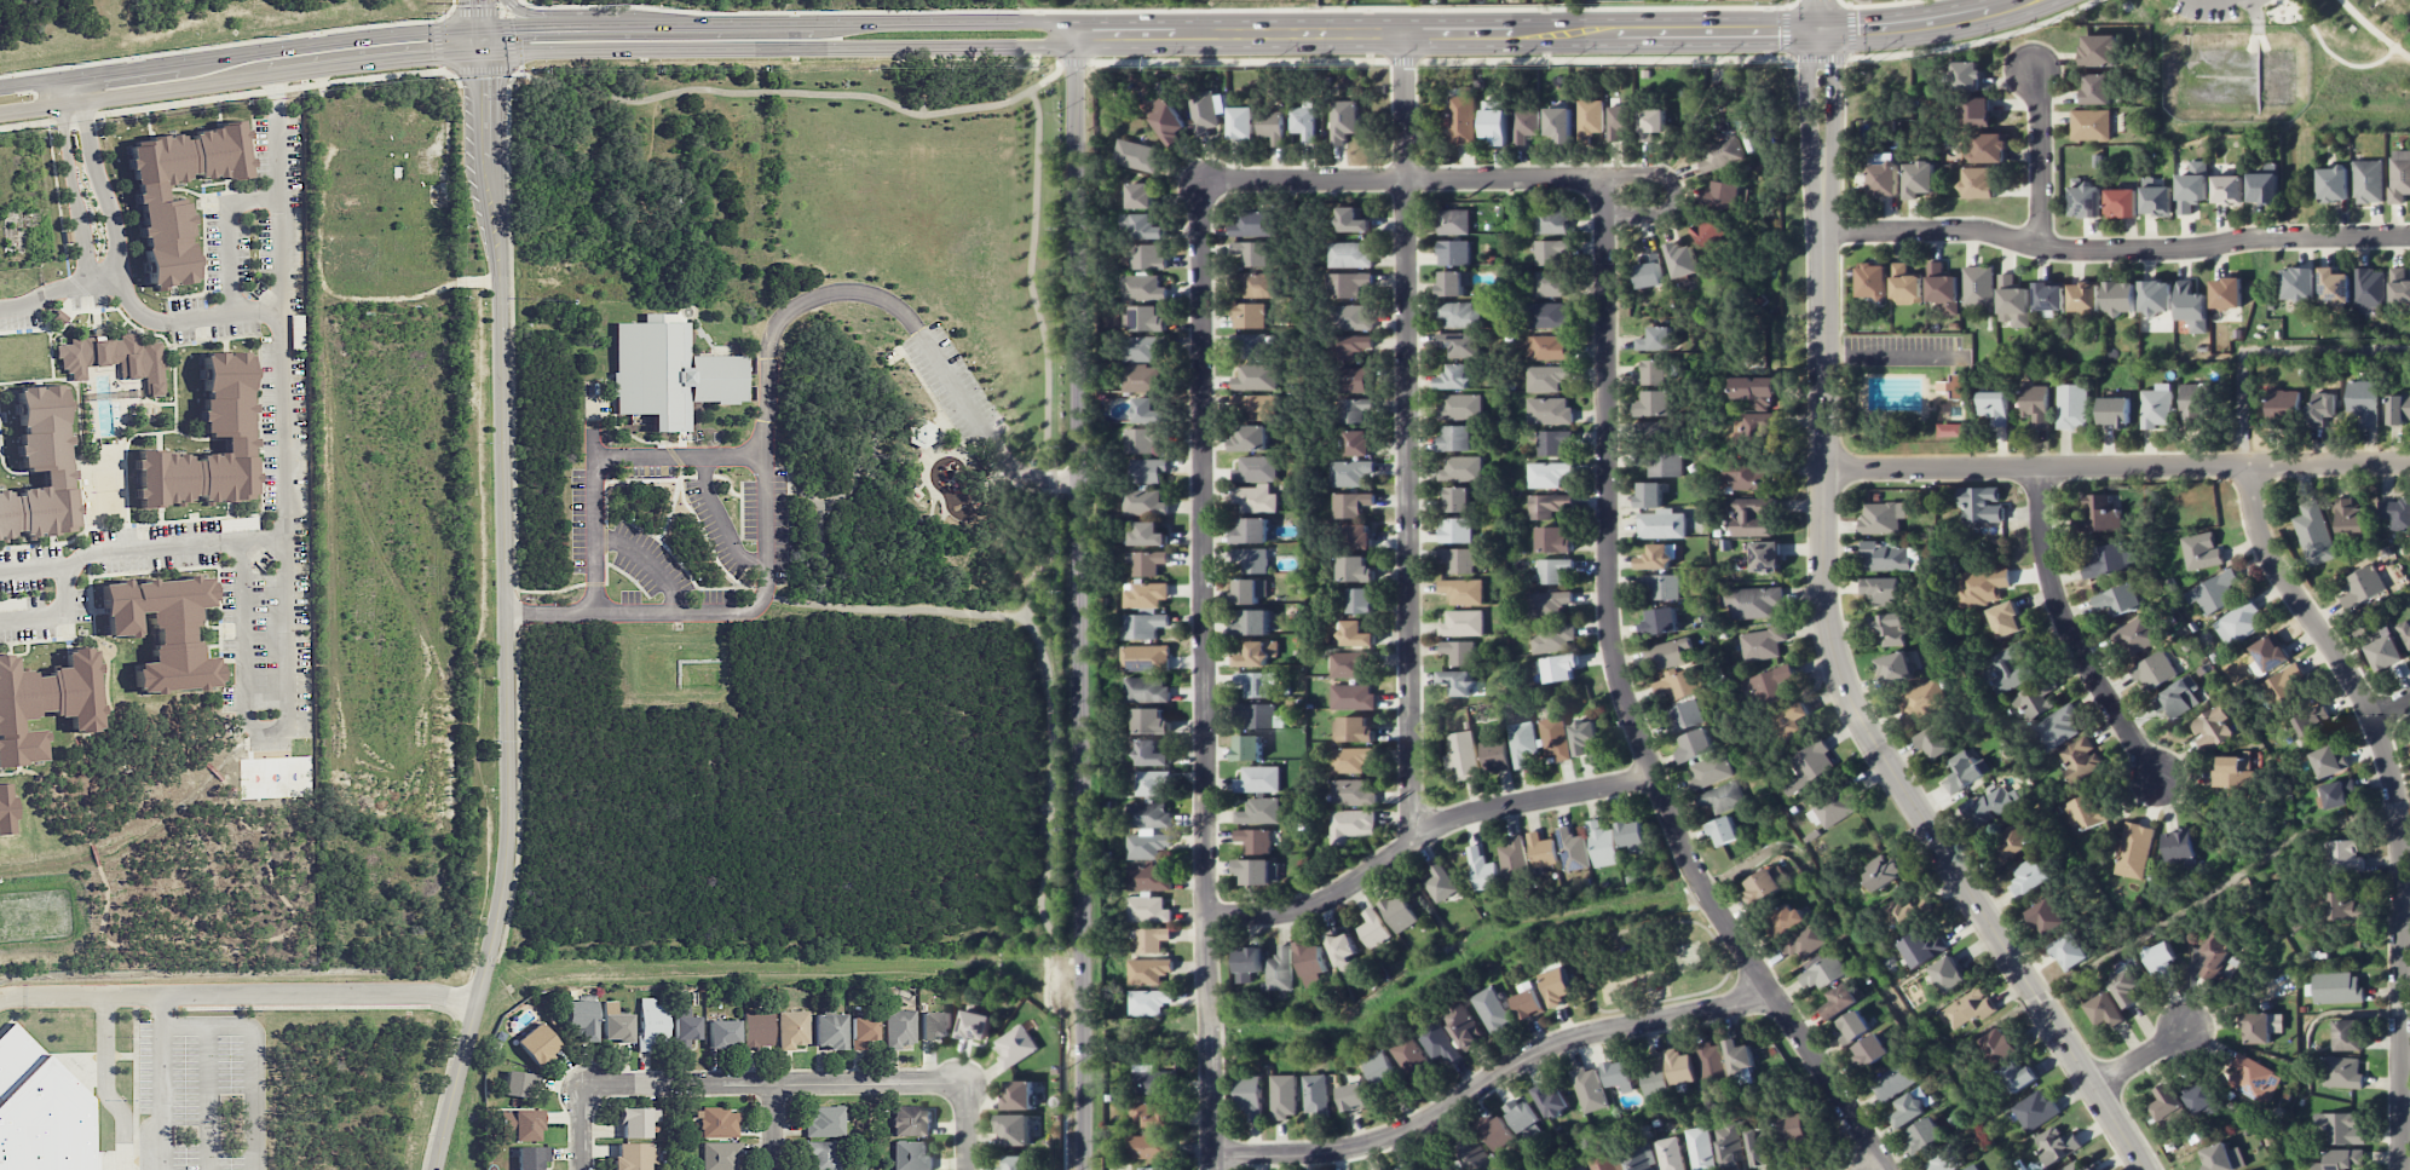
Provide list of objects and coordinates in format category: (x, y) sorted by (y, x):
road: (2245, 1)
road: (2248, 1)
road: (1844, 2)
road: (1879, 2)
traffic signals: (484, 5)
road: (1155, 10)
parking lot: (2219, 10)
road: (475, 12)
road: (484, 13)
road: (526, 13)
road: (1818, 16)
road: (1924, 22)
traffic signals: (514, 25)
road: (535, 25)
road: (2372, 29)
road: (1850, 30)
road: (1445, 31)
road: (1782, 31)
traffic signals: (1818, 31)
road: (507, 33)
road: (224, 45)
road: (437, 46)
building: (2099, 50)
road: (535, 51)
road: (2330, 52)
traffic signals: (432, 56)
road: (1557, 59)
park: (2276, 64)
building: (1966, 75)
traffic signals: (485, 77)
building: (2095, 88)
road: (69, 90)
road: (756, 91)
road: (242, 94)
building: (1203, 111)
building: (1977, 111)
building: (1461, 116)
building: (1590, 116)
building: (1342, 120)
building: (1651, 120)
building: (1166, 121)
building: (1494, 121)
building: (1618, 121)
building: (1238, 122)
building: (1303, 123)
building: (1558, 123)
building: (1524, 125)
building: (2089, 125)
building: (1270, 127)
building: (1988, 148)
building: (1719, 154)
building: (1136, 155)
road: (2039, 156)
building: (1879, 159)
building: (2399, 175)
road: (1400, 177)
building: (1883, 179)
building: (1918, 179)
building: (2368, 180)
building: (1978, 183)
building: (2333, 184)
road: (102, 186)
building: (2191, 186)
building: (2262, 188)
building: (2227, 190)
road: (71, 191)
road: (1674, 194)
building: (1724, 194)
building: (1140, 195)
building: (2155, 197)
building: (2085, 201)
building: (2120, 203)
building: (1351, 220)
building: (1551, 220)
building: (1453, 221)
building: (1250, 223)
building: (1140, 226)
road: (229, 231)
building: (1712, 234)
building: (166, 238)
road: (2115, 249)
building: (1453, 252)
building: (1551, 252)
building: (1250, 253)
building: (1348, 255)
building: (1146, 257)
building: (1682, 259)
building: (1649, 271)
building: (1872, 281)
road: (81, 283)
road: (1027, 283)
building: (1451, 283)
building: (1550, 283)
building: (2297, 283)
building: (1255, 284)
building: (1347, 284)
building: (1905, 286)
building: (1978, 286)
building: (2399, 286)
building: (1943, 287)
building: (2333, 287)
building: (1143, 288)
building: (2369, 289)
building: (2225, 293)
building: (2083, 296)
building: (2155, 296)
building: (2049, 298)
building: (2120, 298)
building: (2013, 301)
road: (23, 302)
building: (2191, 306)
road: (137, 307)
road: (224, 312)
building: (1458, 313)
building: (1247, 315)
building: (1546, 316)
building: (1351, 317)
building: (1147, 318)
building: (1655, 339)
building: (1457, 344)
building: (1351, 346)
building: (1546, 347)
building: (1141, 348)
building: (116, 357)
road: (1896, 357)
building: (669, 373)
building: (1653, 373)
building: (1141, 377)
building: (1255, 377)
building: (1454, 377)
building: (1546, 377)
building: (1353, 380)
building: (1954, 385)
parking lot: (953, 386)
road: (769, 390)
building: (1754, 391)
building: (226, 394)
building: (2195, 400)
building: (2363, 400)
building: (1654, 403)
building: (2035, 403)
building: (2283, 404)
building: (1252, 405)
building: (2071, 405)
building: (2156, 405)
building: (1461, 407)
building: (1994, 407)
building: (2320, 408)
building: (1353, 409)
building: (2398, 409)
building: (1549, 410)
building: (1147, 411)
building: (2115, 411)
road: (940, 425)
building: (1753, 426)
building: (1656, 428)
building: (1949, 430)
building: (919, 432)
road: (1406, 436)
building: (1250, 438)
building: (1455, 438)
building: (1140, 440)
building: (1356, 442)
building: (1552, 442)
road: (679, 455)
road: (858, 462)
building: (1665, 463)
building: (39, 466)
road: (2116, 467)
building: (1255, 468)
building: (1460, 468)
building: (1147, 471)
building: (1349, 472)
building: (1547, 473)
building: (1745, 476)
building: (1649, 494)
road: (593, 497)
building: (1255, 498)
building: (1458, 498)
building: (1143, 502)
building: (1981, 503)
building: (1350, 505)
building: (1547, 505)
road: (821, 512)
building: (2395, 513)
building: (2098, 515)
road: (721, 517)
building: (1751, 517)
building: (1883, 517)
building: (2348, 517)
park: (826, 518)
building: (1661, 524)
road: (284, 529)
parking lot: (678, 529)
building: (1251, 530)
building: (1455, 530)
building: (2313, 534)
building: (1147, 535)
building: (1357, 536)
building: (1553, 540)
road: (116, 549)
building: (2201, 551)
building: (1657, 557)
building: (1765, 557)
building: (1889, 557)
building: (1252, 559)
building: (1457, 559)
building: (2108, 560)
road: (647, 561)
building: (1148, 563)
road: (35, 567)
building: (1355, 569)
building: (1552, 570)
building: (1982, 586)
building: (2362, 586)
building: (1665, 587)
building: (1247, 590)
building: (1463, 590)
building: (1881, 590)
building: (2215, 592)
building: (1146, 595)
building: (1361, 600)
building: (2115, 600)
road: (508, 601)
road: (1078, 601)
building: (1751, 601)
building: (1547, 603)
road: (894, 607)
building: (2005, 618)
building: (1660, 621)
building: (1251, 623)
building: (1461, 623)
building: (2238, 623)
building: (1143, 626)
building: (163, 628)
building: (1887, 628)
building: (2404, 633)
building: (1355, 634)
building: (2139, 634)
road: (2068, 635)
building: (1552, 636)
building: (1762, 642)
road: (1830, 644)
building: (1459, 652)
building: (2383, 652)
building: (1256, 653)
building: (1666, 653)
building: (2267, 653)
building: (1145, 657)
building: (1349, 663)
building: (1557, 667)
building: (1893, 667)
building: (2154, 670)
road: (1203, 674)
building: (1458, 681)
building: (1253, 684)
building: (1768, 684)
building: (2285, 684)
building: (1680, 685)
building: (1147, 688)
building: (1351, 696)
building: (1921, 698)
building: (2034, 698)
building: (2177, 698)
building: (45, 703)
road: (1047, 703)
road: (1626, 707)
road: (2392, 709)
building: (1259, 715)
building: (1683, 715)
building: (1791, 719)
building: (1151, 721)
building: (2311, 724)
building: (2057, 727)
building: (2212, 727)
building: (1353, 730)
building: (1582, 736)
building: (1555, 737)
building: (1932, 742)
building: (1522, 743)
building: (1695, 744)
building: (2408, 745)
building: (1247, 748)
building: (1151, 754)
building: (1461, 755)
building: (1494, 755)
building: (1351, 759)
building: (2080, 759)
building: (2328, 761)
building: (1812, 762)
building: (1711, 770)
building: (1964, 770)
building: (2235, 771)
building: (1258, 779)
building: (1353, 793)
building: (2337, 793)
building: (1722, 797)
road: (2397, 799)
building: (1148, 801)
building: (1988, 805)
building: (7, 808)
building: (1259, 811)
building: (2085, 812)
building: (1350, 825)
building: (1724, 830)
road: (1423, 835)
building: (1632, 835)
building: (1253, 838)
building: (2013, 842)
building: (1146, 845)
building: (1602, 845)
building: (2179, 847)
building: (1572, 849)
building: (1541, 851)
building: (2134, 851)
building: (2345, 854)
building: (1514, 860)
building: (1482, 870)
building: (1257, 871)
building: (1881, 871)
building: (2028, 876)
building: (1148, 877)
building: (1440, 883)
building: (1764, 886)
road: (2406, 899)
building: (2343, 906)
building: (1397, 912)
building: (1901, 912)
building: (2045, 916)
building: (1783, 920)
building: (1373, 928)
building: (1151, 939)
building: (1803, 941)
building: (1922, 946)
building: (2216, 950)
building: (1342, 951)
building: (2069, 951)
building: (2161, 961)
building: (1310, 962)
building: (1246, 964)
building: (1147, 970)
building: (1279, 970)
building: (1822, 970)
building: (1947, 974)
building: (2124, 986)
building: (1556, 987)
road: (238, 993)
building: (1840, 999)
building: (1148, 1001)
building: (1528, 1004)
building: (1491, 1009)
building: (2105, 1010)
building: (1959, 1013)
building: (581, 1016)
building: (615, 1022)
building: (651, 1024)
building: (935, 1025)
building: (975, 1025)
building: (1463, 1026)
building: (792, 1027)
building: (899, 1027)
building: (1852, 1027)
building: (2259, 1027)
building: (685, 1028)
building: (757, 1030)
building: (829, 1031)
building: (863, 1032)
building: (722, 1033)
building: (2347, 1034)
building: (537, 1044)
building: (1437, 1044)
building: (1015, 1045)
building: (1996, 1045)
building: (1869, 1050)
road: (254, 1053)
building: (1409, 1056)
building: (1739, 1056)
road: (2141, 1061)
building: (1712, 1064)
building: (1680, 1070)
building: (1380, 1071)
building: (2341, 1072)
building: (1619, 1076)
building: (1654, 1076)
building: (2017, 1077)
building: (1153, 1079)
road: (1492, 1079)
building: (2254, 1079)
building: (1892, 1080)
road: (161, 1082)
road: (776, 1082)
building: (517, 1083)
building: (1589, 1089)
parking lot: (200, 1091)
building: (1315, 1093)
building: (1019, 1095)
building: (1249, 1096)
building: (1284, 1096)
building: (1354, 1096)
road: (208, 1097)
building: (2203, 1099)
building: (1551, 1100)
building: (2166, 1102)
building: (1910, 1106)
building: (39, 1110)
building: (2034, 1110)
road: (2406, 1111)
building: (1152, 1114)
building: (1523, 1118)
building: (826, 1120)
building: (910, 1120)
building: (638, 1122)
building: (717, 1123)
building: (520, 1125)
road: (967, 1125)
road: (584, 1126)
road: (774, 1126)
building: (1793, 1128)
building: (2337, 1128)
building: (1014, 1129)
building: (1498, 1131)
building: (1922, 1135)
building: (2057, 1145)
building: (1151, 1146)
building: (1730, 1146)
building: (1759, 1146)
building: (1700, 1148)
building: (1670, 1153)
building: (721, 1154)
building: (823, 1155)
building: (911, 1155)
building: (1641, 1155)
building: (531, 1157)
building: (2221, 1158)
building: (1943, 1159)
building: (2340, 1159)
building: (1603, 1162)
building: (1016, 1163)
building: (1575, 1166)
building: (2072, 1166)
building: (1153, 1168)
building: (1972, 1168)
building: (2092, 1168)
building: (1406, 1169)

